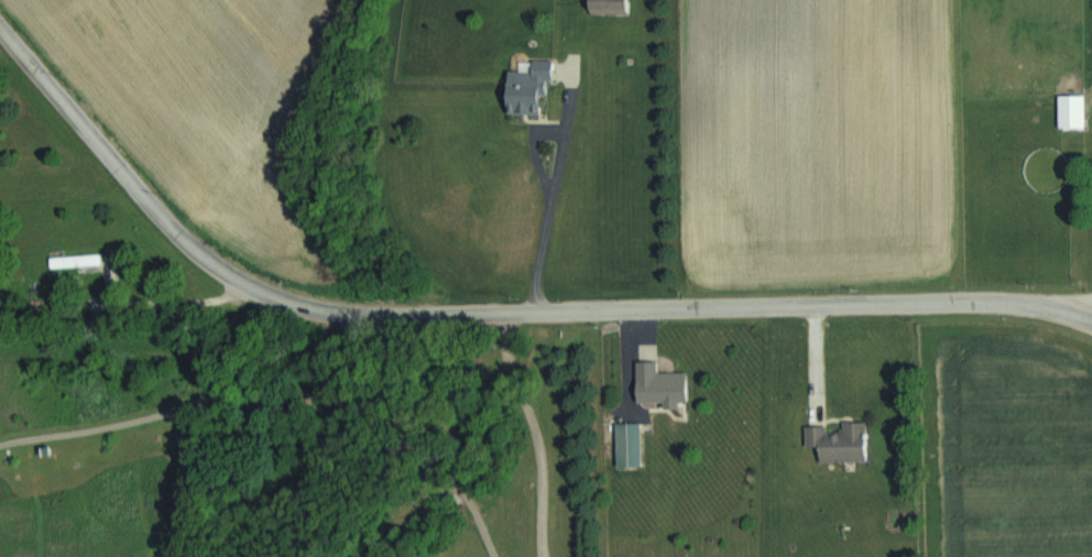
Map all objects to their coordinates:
building: (615, 4)
building: (538, 84)
building: (1064, 110)
road: (1063, 299)
road: (1063, 309)
road: (459, 312)
building: (666, 383)
road: (514, 434)
building: (845, 439)

